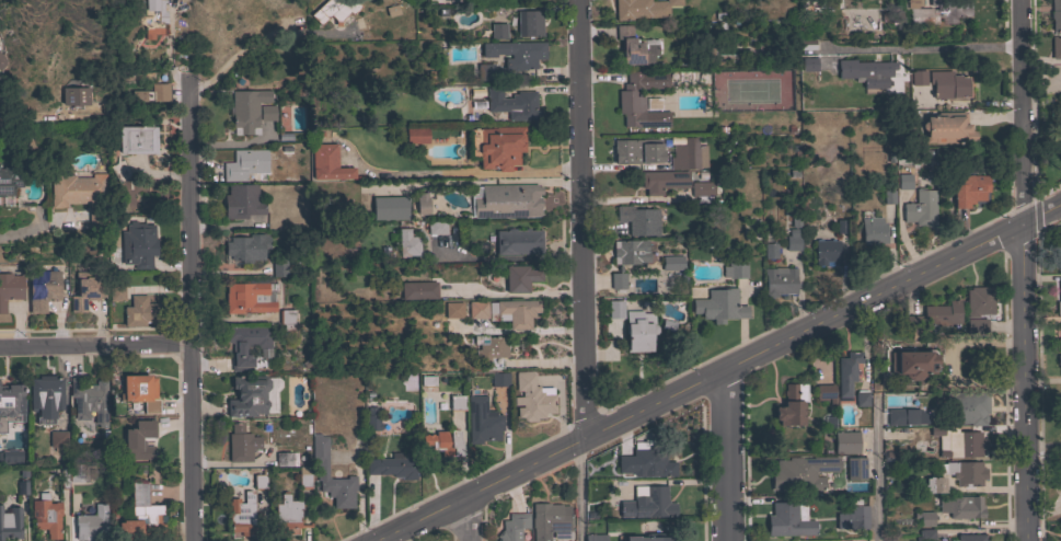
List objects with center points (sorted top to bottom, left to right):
building: (643, 9)
building: (334, 10)
building: (1056, 10)
building: (935, 11)
building: (389, 12)
building: (153, 18)
building: (529, 23)
building: (498, 31)
building: (635, 46)
road: (921, 47)
building: (1056, 47)
building: (516, 54)
road: (241, 56)
building: (2, 61)
building: (808, 65)
building: (485, 71)
building: (865, 73)
building: (918, 78)
building: (948, 84)
building: (151, 93)
building: (74, 96)
building: (641, 100)
building: (512, 103)
building: (246, 110)
building: (267, 113)
road: (41, 115)
building: (947, 128)
building: (416, 136)
building: (136, 139)
building: (496, 146)
building: (636, 151)
building: (688, 154)
building: (327, 163)
building: (244, 164)
building: (119, 171)
building: (9, 180)
building: (664, 180)
building: (903, 181)
building: (968, 189)
building: (702, 191)
building: (81, 195)
building: (889, 196)
building: (241, 200)
building: (507, 200)
building: (136, 203)
building: (422, 204)
building: (390, 207)
building: (921, 209)
road: (581, 219)
building: (638, 220)
building: (433, 226)
building: (873, 230)
road: (22, 234)
building: (793, 240)
building: (518, 241)
building: (407, 243)
building: (138, 244)
building: (245, 246)
building: (1060, 248)
building: (630, 251)
building: (770, 251)
building: (826, 252)
road: (508, 255)
building: (1058, 257)
building: (671, 262)
building: (278, 268)
building: (735, 269)
road: (1024, 270)
building: (520, 277)
building: (616, 279)
building: (779, 280)
building: (10, 288)
building: (43, 289)
building: (85, 289)
building: (418, 290)
building: (116, 292)
road: (512, 293)
building: (246, 297)
building: (1059, 300)
building: (978, 301)
building: (719, 306)
building: (452, 309)
building: (477, 309)
building: (141, 311)
building: (612, 311)
road: (193, 312)
building: (516, 312)
building: (942, 313)
building: (286, 319)
building: (1060, 325)
building: (976, 326)
building: (636, 330)
building: (1058, 343)
road: (96, 345)
building: (246, 345)
building: (492, 353)
building: (1059, 360)
building: (912, 364)
building: (846, 371)
road: (718, 373)
building: (499, 379)
building: (414, 382)
building: (140, 391)
building: (824, 393)
building: (46, 394)
building: (247, 395)
building: (531, 398)
building: (861, 398)
building: (89, 400)
building: (457, 402)
building: (893, 402)
building: (11, 404)
building: (791, 404)
building: (966, 407)
building: (897, 417)
building: (371, 419)
building: (482, 421)
building: (0, 431)
building: (58, 439)
building: (138, 440)
building: (443, 441)
building: (957, 441)
building: (845, 442)
building: (241, 444)
building: (9, 445)
road: (1045, 445)
building: (10, 456)
road: (729, 456)
road: (877, 456)
building: (286, 459)
building: (646, 462)
building: (393, 465)
building: (323, 468)
building: (855, 469)
building: (964, 472)
building: (801, 473)
building: (70, 474)
building: (261, 480)
building: (303, 481)
building: (934, 485)
building: (22, 487)
road: (584, 490)
building: (656, 502)
building: (959, 506)
building: (626, 508)
building: (141, 514)
building: (287, 514)
building: (242, 515)
building: (46, 517)
building: (852, 518)
building: (925, 518)
road: (466, 519)
building: (788, 519)
building: (10, 521)
building: (91, 521)
building: (550, 521)
building: (512, 527)
building: (925, 534)
building: (595, 538)
building: (970, 538)
building: (649, 539)

